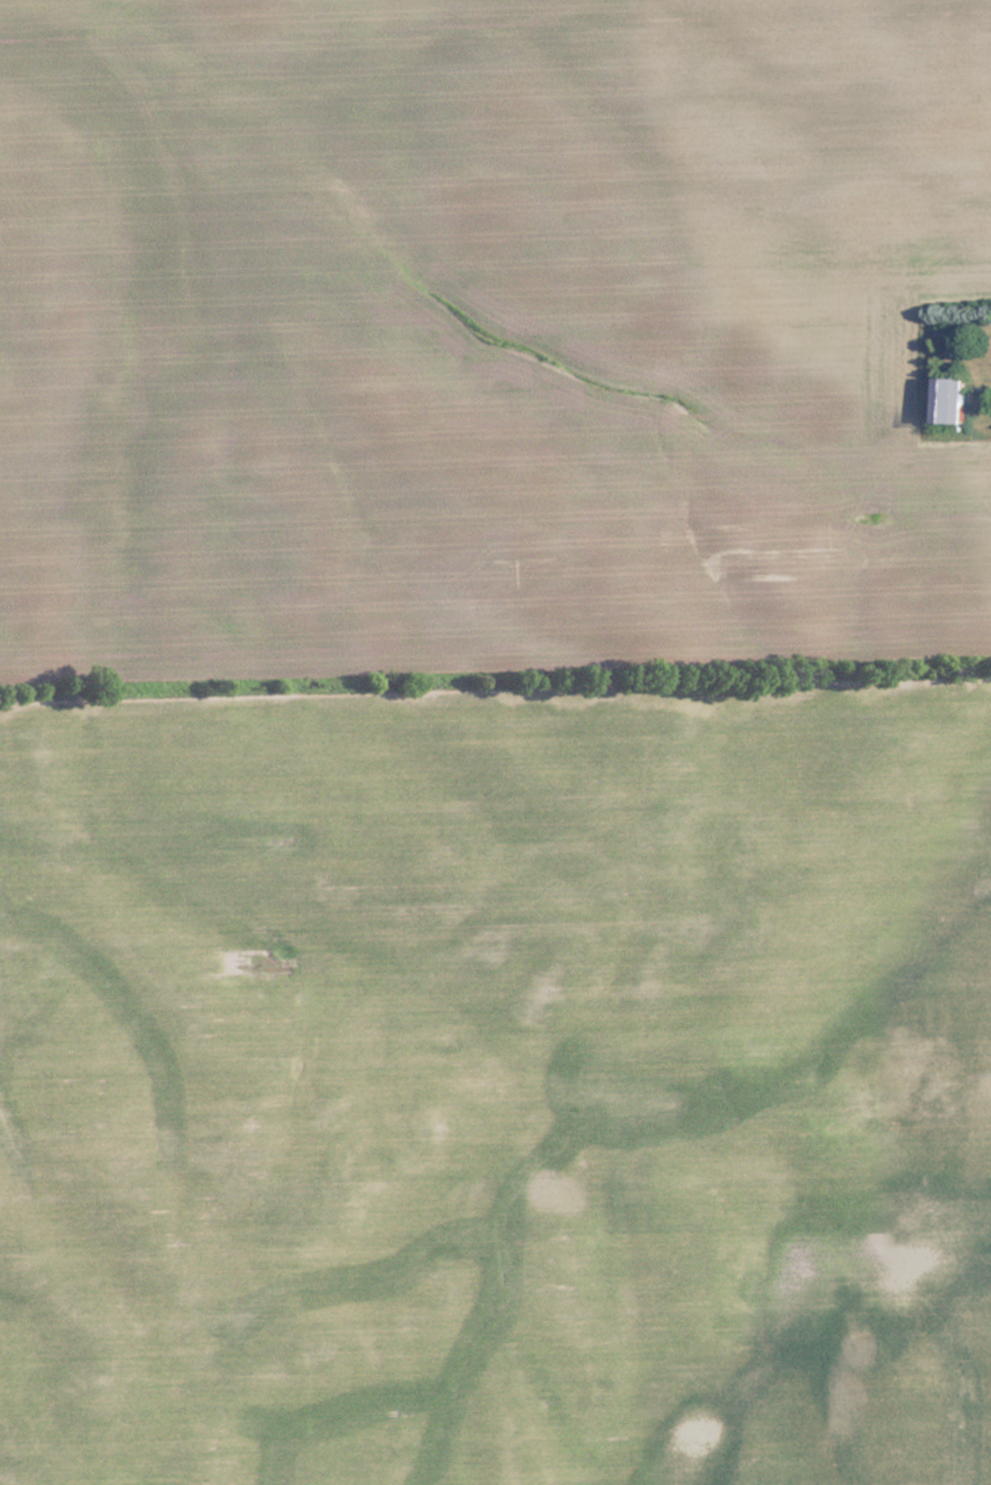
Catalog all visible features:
building: (946, 402)

